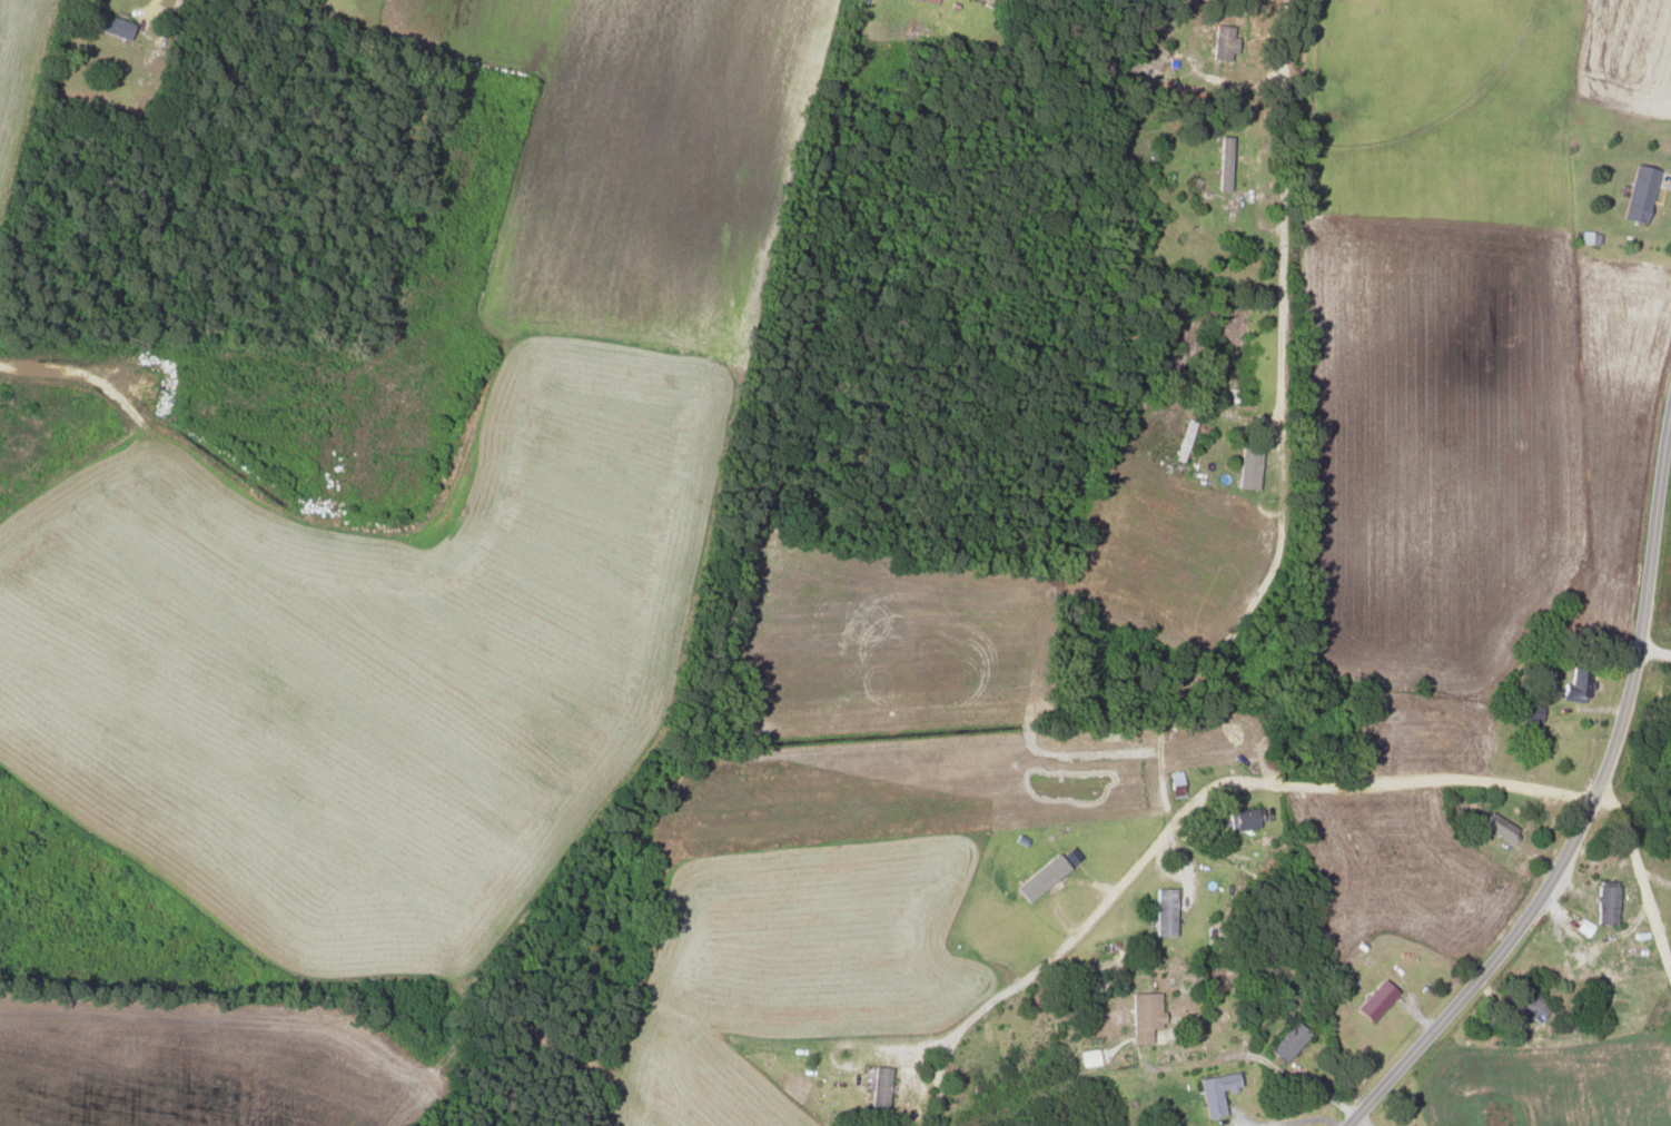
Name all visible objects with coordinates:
building: (859, 1)
building: (929, 1)
building: (111, 26)
building: (1222, 40)
building: (1223, 164)
building: (1637, 194)
road: (1283, 206)
building: (1586, 237)
building: (1246, 468)
road: (1662, 654)
building: (1575, 685)
building: (1530, 711)
building: (1175, 783)
road: (1180, 810)
road: (1578, 814)
building: (1244, 818)
building: (1497, 826)
building: (1038, 877)
building: (1605, 903)
building: (1163, 911)
building: (1583, 927)
building: (1374, 999)
building: (1527, 1005)
building: (1143, 1015)
building: (1286, 1041)
building: (1088, 1057)
building: (878, 1086)
building: (1214, 1092)

